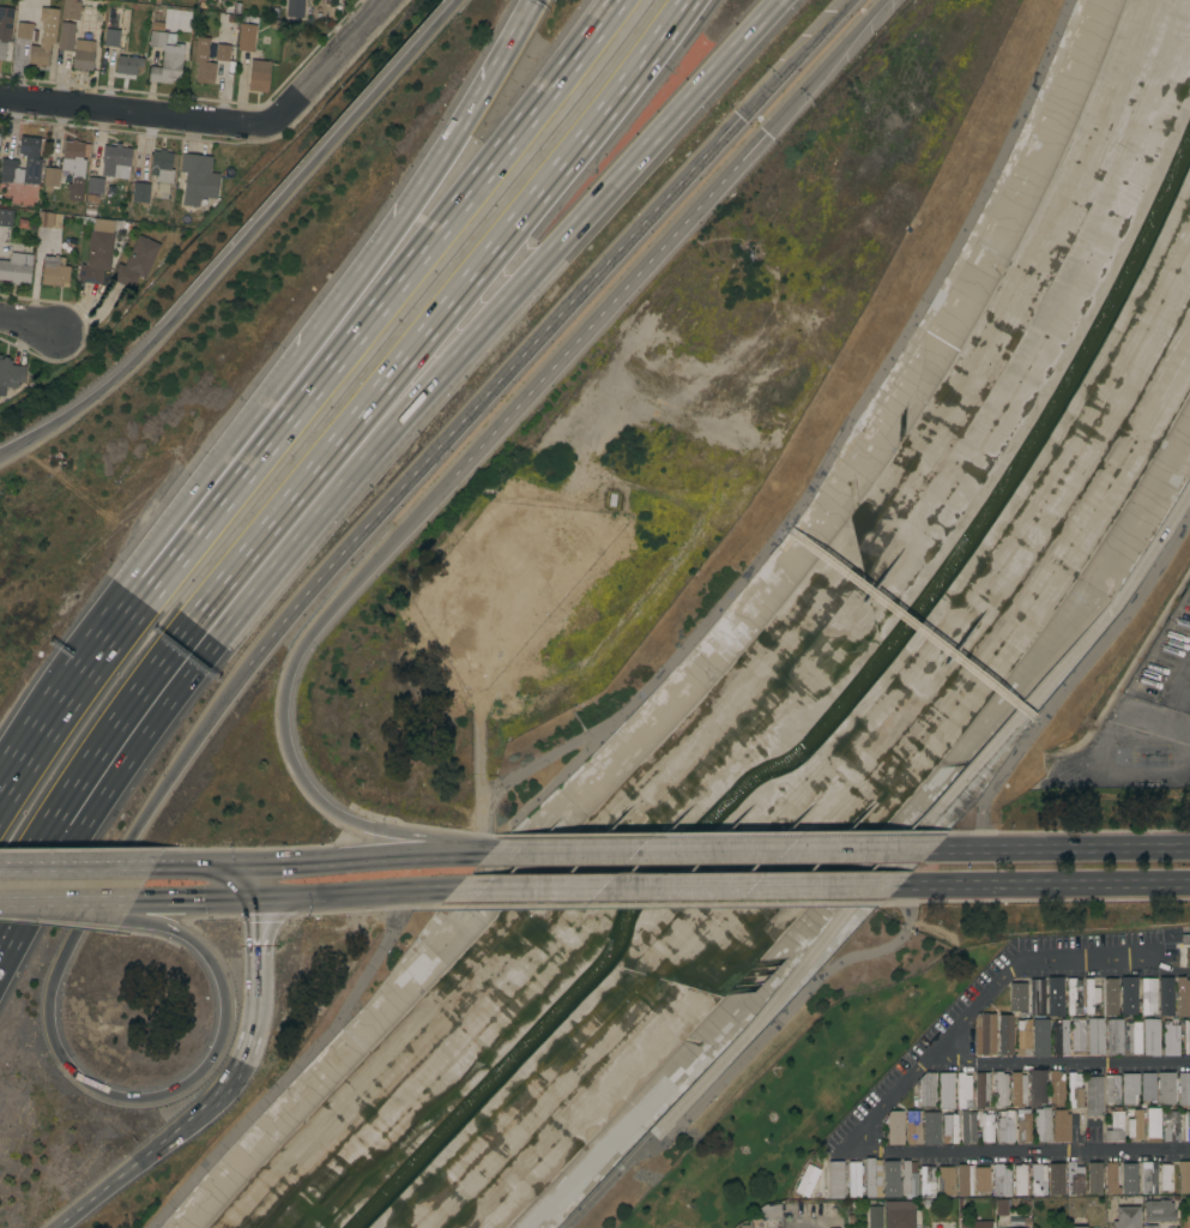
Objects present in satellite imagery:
building: (295, 8)
building: (71, 10)
building: (116, 26)
building: (5, 29)
building: (26, 31)
building: (66, 36)
building: (44, 37)
building: (247, 37)
building: (222, 53)
building: (83, 55)
building: (165, 58)
road: (796, 59)
building: (204, 61)
road: (330, 64)
building: (125, 66)
road: (821, 68)
building: (259, 76)
road: (135, 112)
building: (30, 158)
building: (162, 165)
building: (73, 168)
building: (7, 170)
building: (109, 173)
building: (50, 177)
building: (198, 179)
road: (424, 179)
building: (140, 193)
building: (91, 200)
building: (6, 217)
building: (49, 219)
road: (238, 241)
building: (96, 257)
building: (135, 261)
building: (14, 269)
building: (54, 272)
road: (363, 308)
road: (608, 309)
road: (28, 323)
building: (11, 373)
road: (491, 387)
road: (400, 416)
road: (357, 419)
road: (212, 483)
building: (1186, 574)
road: (1074, 674)
road: (1184, 694)
road: (282, 704)
road: (59, 706)
river: (826, 722)
road: (1174, 732)
road: (1063, 847)
road: (713, 849)
road: (363, 857)
road: (195, 863)
traffic signals: (238, 863)
road: (887, 863)
road: (77, 866)
road: (246, 881)
road: (1045, 883)
road: (23, 887)
road: (678, 887)
road: (355, 896)
road: (200, 899)
traffic signals: (254, 899)
road: (73, 901)
road: (71, 909)
road: (255, 931)
building: (1185, 937)
building: (1091, 994)
building: (1129, 994)
building: (1073, 995)
building: (1148, 995)
building: (1019, 997)
building: (1037, 997)
building: (1055, 997)
building: (1110, 997)
building: (1166, 997)
building: (1183, 997)
road: (781, 1015)
road: (48, 1023)
building: (985, 1034)
building: (1005, 1034)
building: (1077, 1035)
building: (1095, 1036)
building: (1115, 1036)
building: (1186, 1036)
building: (1023, 1037)
building: (1040, 1037)
building: (1061, 1037)
building: (1134, 1037)
building: (1150, 1037)
road: (248, 1039)
building: (1170, 1039)
road: (1059, 1063)
park: (809, 1066)
building: (1147, 1085)
building: (1037, 1086)
building: (981, 1088)
building: (1056, 1088)
building: (1129, 1088)
building: (1166, 1088)
building: (999, 1089)
building: (1017, 1089)
building: (1112, 1089)
building: (1183, 1089)
building: (926, 1090)
building: (1074, 1090)
building: (946, 1091)
building: (964, 1091)
building: (1094, 1095)
road: (882, 1109)
building: (1041, 1124)
building: (1135, 1124)
building: (985, 1125)
building: (1007, 1125)
building: (1115, 1125)
building: (1153, 1125)
building: (1186, 1125)
building: (913, 1126)
building: (967, 1126)
building: (1023, 1126)
building: (1061, 1126)
building: (1171, 1126)
building: (894, 1127)
building: (930, 1127)
building: (950, 1127)
road: (132, 1166)
building: (1148, 1176)
building: (1184, 1176)
building: (814, 1178)
building: (872, 1178)
building: (890, 1178)
building: (908, 1178)
building: (1056, 1178)
building: (1094, 1178)
building: (1166, 1178)
building: (835, 1179)
building: (854, 1179)
building: (981, 1179)
building: (1019, 1179)
building: (1039, 1179)
building: (1074, 1179)
building: (1112, 1179)
building: (1129, 1179)
building: (946, 1180)
building: (964, 1180)
building: (1001, 1180)
building: (926, 1181)
building: (1001, 1206)
building: (771, 1210)
building: (1159, 1211)
building: (900, 1214)
building: (875, 1217)
building: (1126, 1217)
building: (756, 1222)
building: (943, 1224)
building: (965, 1224)
building: (1077, 1226)
building: (1149, 1226)
building: (1009, 1227)

